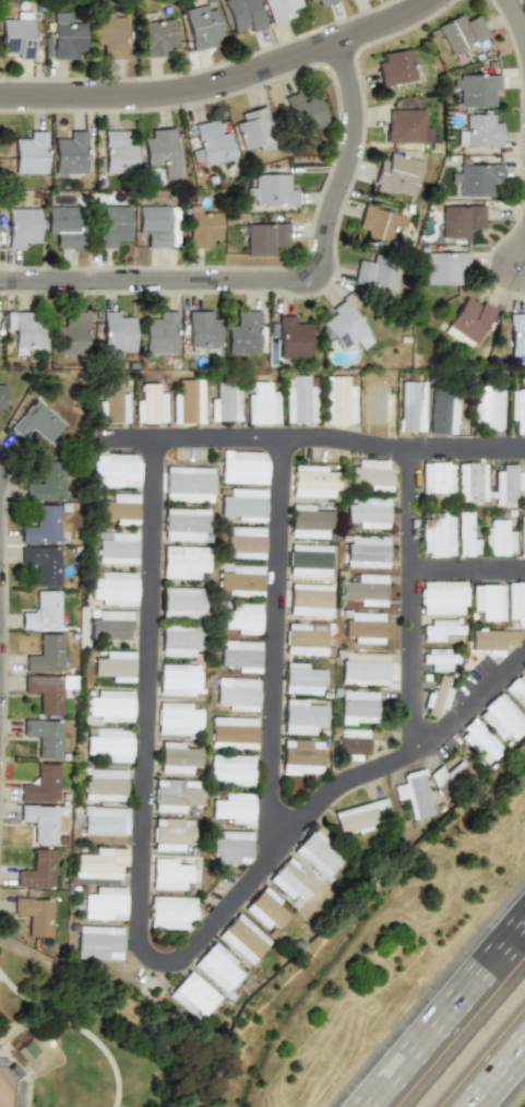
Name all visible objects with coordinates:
building: (309, 0)
building: (326, 2)
building: (279, 9)
building: (243, 14)
road: (516, 20)
building: (201, 24)
building: (462, 32)
building: (109, 34)
building: (156, 34)
building: (65, 35)
building: (15, 36)
building: (396, 67)
road: (224, 83)
building: (477, 89)
building: (303, 111)
building: (404, 125)
building: (254, 129)
building: (479, 130)
building: (212, 143)
building: (28, 151)
building: (69, 151)
building: (117, 151)
building: (162, 151)
building: (397, 174)
building: (478, 178)
building: (271, 190)
building: (461, 219)
building: (378, 223)
building: (111, 224)
building: (157, 224)
building: (62, 225)
building: (21, 227)
building: (202, 227)
building: (265, 237)
road: (522, 255)
building: (444, 267)
building: (377, 272)
road: (276, 279)
building: (469, 320)
building: (346, 327)
building: (24, 329)
building: (202, 330)
building: (117, 331)
building: (159, 332)
building: (243, 332)
building: (69, 333)
building: (517, 333)
building: (293, 337)
building: (0, 398)
building: (373, 398)
building: (299, 400)
building: (338, 400)
building: (187, 401)
building: (225, 401)
building: (261, 403)
building: (112, 404)
building: (150, 404)
building: (411, 407)
building: (488, 408)
building: (517, 409)
building: (443, 411)
building: (34, 422)
road: (254, 439)
road: (469, 450)
building: (242, 467)
building: (114, 469)
building: (370, 473)
building: (435, 478)
building: (312, 481)
building: (43, 482)
building: (470, 482)
building: (186, 483)
building: (505, 484)
building: (242, 504)
building: (119, 508)
building: (367, 511)
building: (308, 521)
building: (182, 523)
building: (38, 525)
building: (437, 533)
building: (465, 534)
building: (522, 534)
building: (499, 538)
building: (243, 542)
building: (115, 547)
building: (367, 551)
building: (308, 560)
building: (181, 561)
building: (39, 565)
road: (469, 572)
building: (110, 588)
building: (365, 589)
building: (442, 597)
building: (309, 599)
building: (179, 601)
building: (488, 601)
building: (516, 601)
building: (39, 611)
building: (241, 617)
building: (107, 625)
building: (363, 626)
building: (440, 629)
building: (305, 638)
building: (493, 639)
building: (177, 640)
road: (276, 650)
building: (43, 655)
building: (239, 655)
building: (439, 659)
building: (112, 667)
building: (363, 668)
building: (301, 679)
road: (414, 679)
building: (176, 680)
building: (517, 690)
building: (44, 693)
building: (236, 693)
building: (438, 696)
building: (109, 705)
building: (357, 707)
building: (301, 717)
building: (502, 717)
building: (175, 719)
building: (231, 732)
building: (41, 737)
building: (480, 741)
building: (351, 743)
building: (106, 744)
building: (300, 756)
building: (175, 757)
building: (230, 769)
building: (458, 774)
building: (40, 784)
building: (103, 784)
building: (414, 793)
building: (174, 794)
building: (232, 808)
building: (360, 816)
building: (104, 820)
building: (39, 822)
building: (169, 833)
building: (229, 847)
building: (317, 853)
building: (100, 863)
building: (37, 869)
road: (144, 873)
building: (167, 874)
building: (290, 884)
building: (104, 903)
building: (264, 908)
building: (169, 911)
building: (35, 915)
building: (240, 938)
building: (98, 942)
building: (215, 967)
building: (190, 994)
road: (442, 1012)
park: (104, 1047)
road: (500, 1077)

